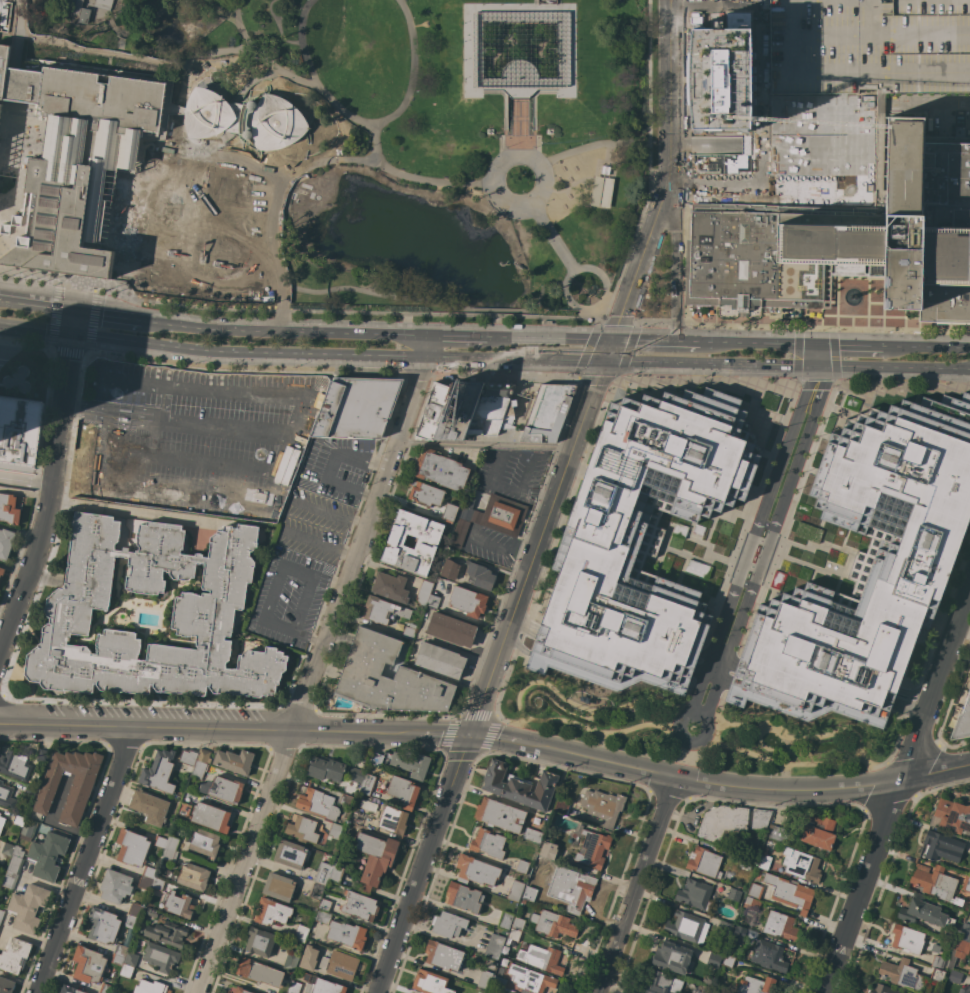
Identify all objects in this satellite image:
building: (545, 1)
building: (104, 4)
building: (77, 6)
road: (560, 7)
road: (94, 9)
road: (145, 18)
road: (110, 25)
road: (118, 34)
building: (869, 46)
parking garage: (869, 46)
road: (468, 47)
road: (214, 51)
road: (260, 55)
building: (481, 56)
building: (478, 57)
road: (272, 72)
building: (719, 78)
road: (246, 84)
road: (519, 84)
road: (470, 92)
road: (567, 92)
road: (669, 95)
building: (880, 101)
road: (939, 104)
road: (504, 107)
road: (533, 107)
road: (180, 110)
road: (233, 117)
building: (245, 118)
road: (366, 120)
road: (518, 125)
road: (859, 133)
road: (226, 134)
park: (420, 138)
road: (376, 141)
road: (504, 143)
road: (533, 143)
road: (592, 144)
road: (702, 145)
road: (513, 154)
road: (760, 164)
building: (98, 169)
building: (604, 170)
road: (395, 172)
building: (600, 192)
building: (847, 237)
road: (552, 238)
road: (271, 240)
road: (258, 245)
road: (675, 265)
road: (93, 288)
road: (381, 295)
fountain: (851, 296)
road: (539, 297)
road: (138, 299)
road: (566, 299)
road: (281, 306)
road: (36, 307)
road: (495, 309)
traffic signals: (74, 312)
road: (599, 313)
road: (107, 316)
road: (603, 318)
road: (281, 320)
road: (72, 322)
road: (651, 324)
road: (676, 325)
road: (600, 326)
road: (826, 327)
road: (35, 328)
road: (280, 330)
traffic signals: (71, 333)
road: (459, 336)
road: (553, 338)
traffic signals: (612, 339)
road: (656, 341)
road: (12, 342)
road: (758, 343)
traffic signals: (816, 344)
road: (422, 345)
road: (850, 345)
road: (928, 347)
road: (65, 350)
road: (245, 351)
road: (816, 355)
road: (477, 356)
road: (569, 358)
traffic signals: (605, 360)
road: (711, 362)
traffic signals: (817, 366)
road: (893, 368)
road: (302, 375)
road: (707, 380)
road: (815, 382)
building: (357, 407)
building: (435, 408)
building: (491, 408)
building: (510, 409)
building: (460, 410)
building: (548, 412)
building: (20, 430)
road: (69, 465)
road: (332, 466)
road: (14, 467)
parking lot: (336, 470)
building: (441, 470)
road: (44, 471)
road: (26, 482)
road: (524, 487)
building: (426, 494)
road: (486, 495)
road: (50, 496)
building: (9, 508)
road: (320, 510)
road: (135, 512)
building: (450, 512)
building: (497, 516)
road: (478, 517)
road: (356, 523)
parking lot: (315, 525)
building: (459, 533)
building: (642, 540)
road: (308, 541)
building: (427, 541)
building: (6, 542)
road: (759, 547)
road: (499, 548)
road: (344, 554)
building: (868, 566)
building: (450, 569)
road: (298, 570)
building: (1, 571)
building: (480, 575)
building: (390, 586)
building: (424, 592)
road: (523, 592)
parking lot: (289, 598)
building: (209, 601)
building: (468, 601)
road: (268, 602)
building: (433, 602)
road: (302, 606)
building: (383, 610)
building: (451, 629)
building: (409, 631)
road: (304, 638)
building: (440, 660)
road: (313, 674)
building: (387, 678)
building: (969, 688)
building: (962, 721)
park: (688, 728)
road: (488, 740)
building: (1, 749)
road: (685, 754)
building: (43, 755)
building: (204, 756)
building: (377, 759)
building: (189, 760)
building: (234, 761)
building: (16, 764)
building: (412, 764)
building: (326, 768)
building: (199, 769)
building: (159, 771)
building: (356, 774)
building: (366, 784)
building: (519, 785)
road: (893, 787)
building: (223, 789)
building: (30, 791)
building: (404, 791)
building: (187, 792)
building: (79, 793)
building: (6, 796)
building: (344, 799)
building: (316, 802)
building: (368, 803)
building: (603, 806)
building: (149, 807)
building: (561, 807)
building: (185, 809)
building: (0, 813)
building: (500, 815)
building: (952, 815)
building: (211, 817)
building: (356, 817)
building: (760, 818)
building: (393, 819)
building: (19, 820)
building: (2, 822)
building: (723, 822)
building: (28, 829)
building: (302, 829)
building: (334, 829)
building: (819, 832)
building: (778, 833)
building: (532, 835)
building: (161, 842)
building: (172, 843)
building: (205, 843)
building: (488, 843)
building: (942, 846)
building: (132, 847)
building: (592, 847)
building: (9, 849)
building: (548, 850)
building: (290, 854)
building: (48, 855)
building: (169, 855)
building: (539, 858)
building: (374, 859)
building: (17, 860)
road: (85, 860)
building: (746, 861)
building: (764, 861)
building: (704, 862)
building: (801, 864)
building: (522, 866)
building: (476, 870)
building: (149, 872)
building: (322, 872)
building: (337, 872)
building: (194, 876)
building: (10, 880)
building: (145, 882)
building: (935, 882)
building: (158, 883)
building: (966, 884)
building: (114, 886)
building: (279, 886)
road: (636, 887)
building: (572, 888)
building: (515, 890)
building: (755, 890)
building: (316, 891)
building: (790, 892)
building: (529, 893)
building: (694, 893)
building: (734, 894)
building: (464, 897)
building: (325, 901)
building: (752, 903)
building: (177, 905)
building: (360, 905)
building: (28, 907)
building: (134, 909)
building: (273, 911)
building: (152, 912)
building: (923, 912)
building: (1, 914)
building: (322, 917)
building: (505, 920)
building: (130, 921)
building: (518, 923)
building: (448, 924)
building: (553, 924)
building: (103, 925)
building: (781, 925)
building: (687, 927)
building: (724, 929)
building: (167, 933)
building: (301, 933)
building: (965, 933)
building: (347, 934)
building: (513, 935)
building: (736, 939)
building: (907, 939)
building: (260, 942)
building: (494, 946)
building: (121, 949)
building: (959, 951)
building: (443, 955)
building: (769, 955)
building: (15, 956)
building: (160, 956)
building: (672, 957)
building: (131, 958)
building: (309, 958)
building: (541, 958)
building: (117, 959)
building: (713, 960)
building: (291, 961)
building: (728, 961)
building: (323, 962)
building: (938, 962)
building: (89, 964)
building: (341, 965)
building: (125, 970)
building: (969, 970)
building: (259, 971)
building: (902, 974)
building: (937, 975)
building: (955, 976)
building: (485, 979)
building: (530, 979)
building: (430, 982)
building: (498, 982)
building: (662, 983)
building: (6, 985)
building: (321, 985)
building: (756, 985)
building: (151, 987)
building: (294, 987)
building: (106, 988)
building: (69, 989)
building: (881, 989)
building: (241, 990)
building: (714, 991)
building: (969, 992)

